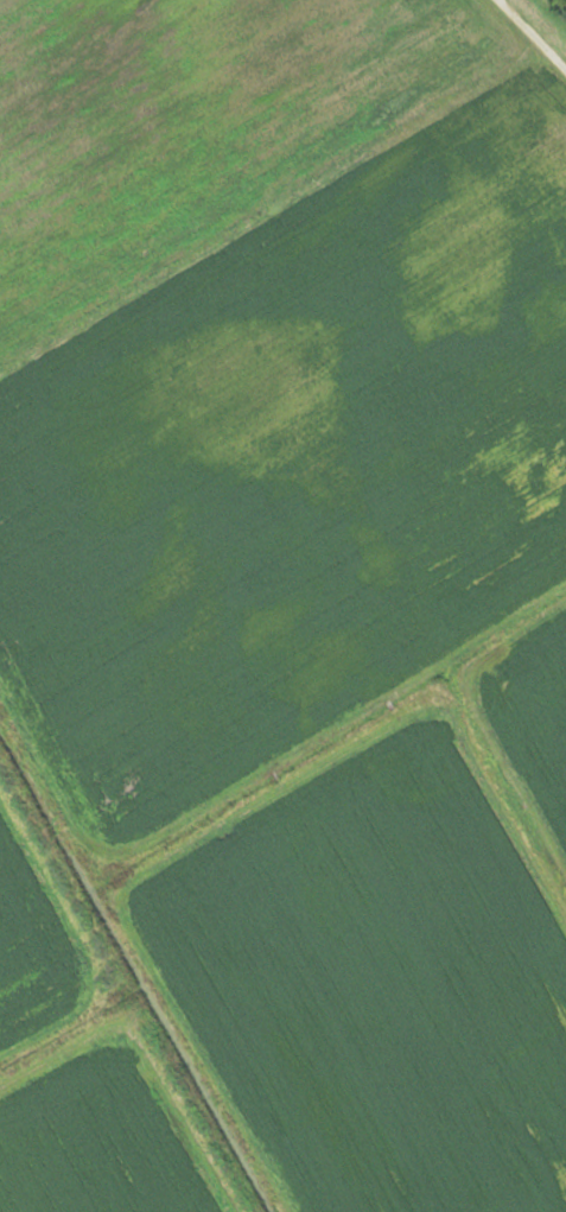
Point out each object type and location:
road: (517, 43)

